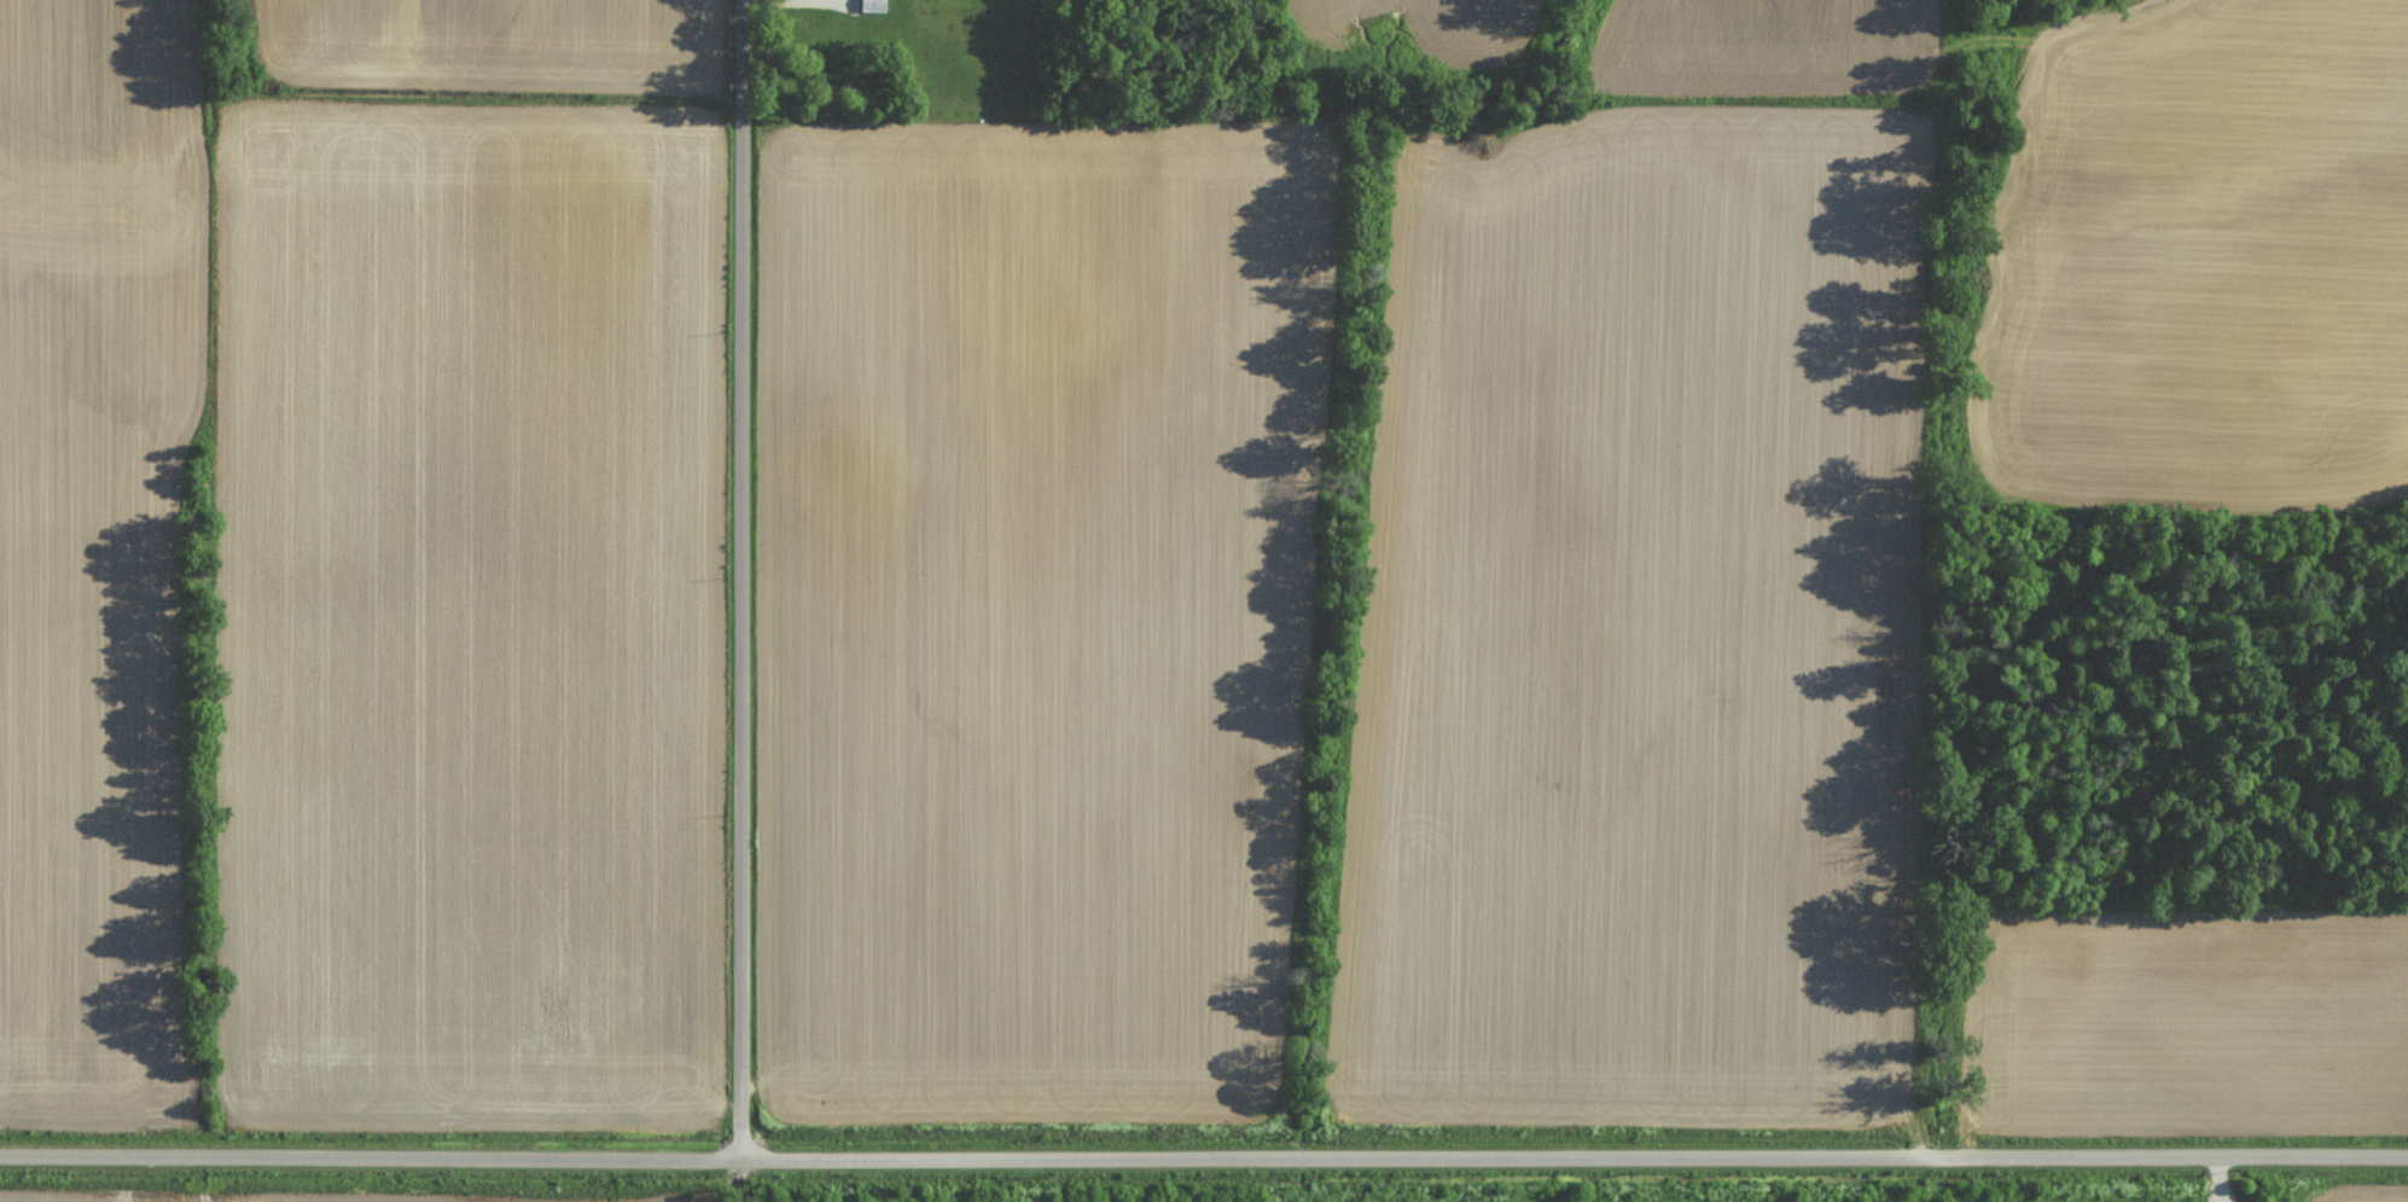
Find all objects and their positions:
road: (761, 576)
road: (1203, 1150)
parking lot: (2220, 1186)

